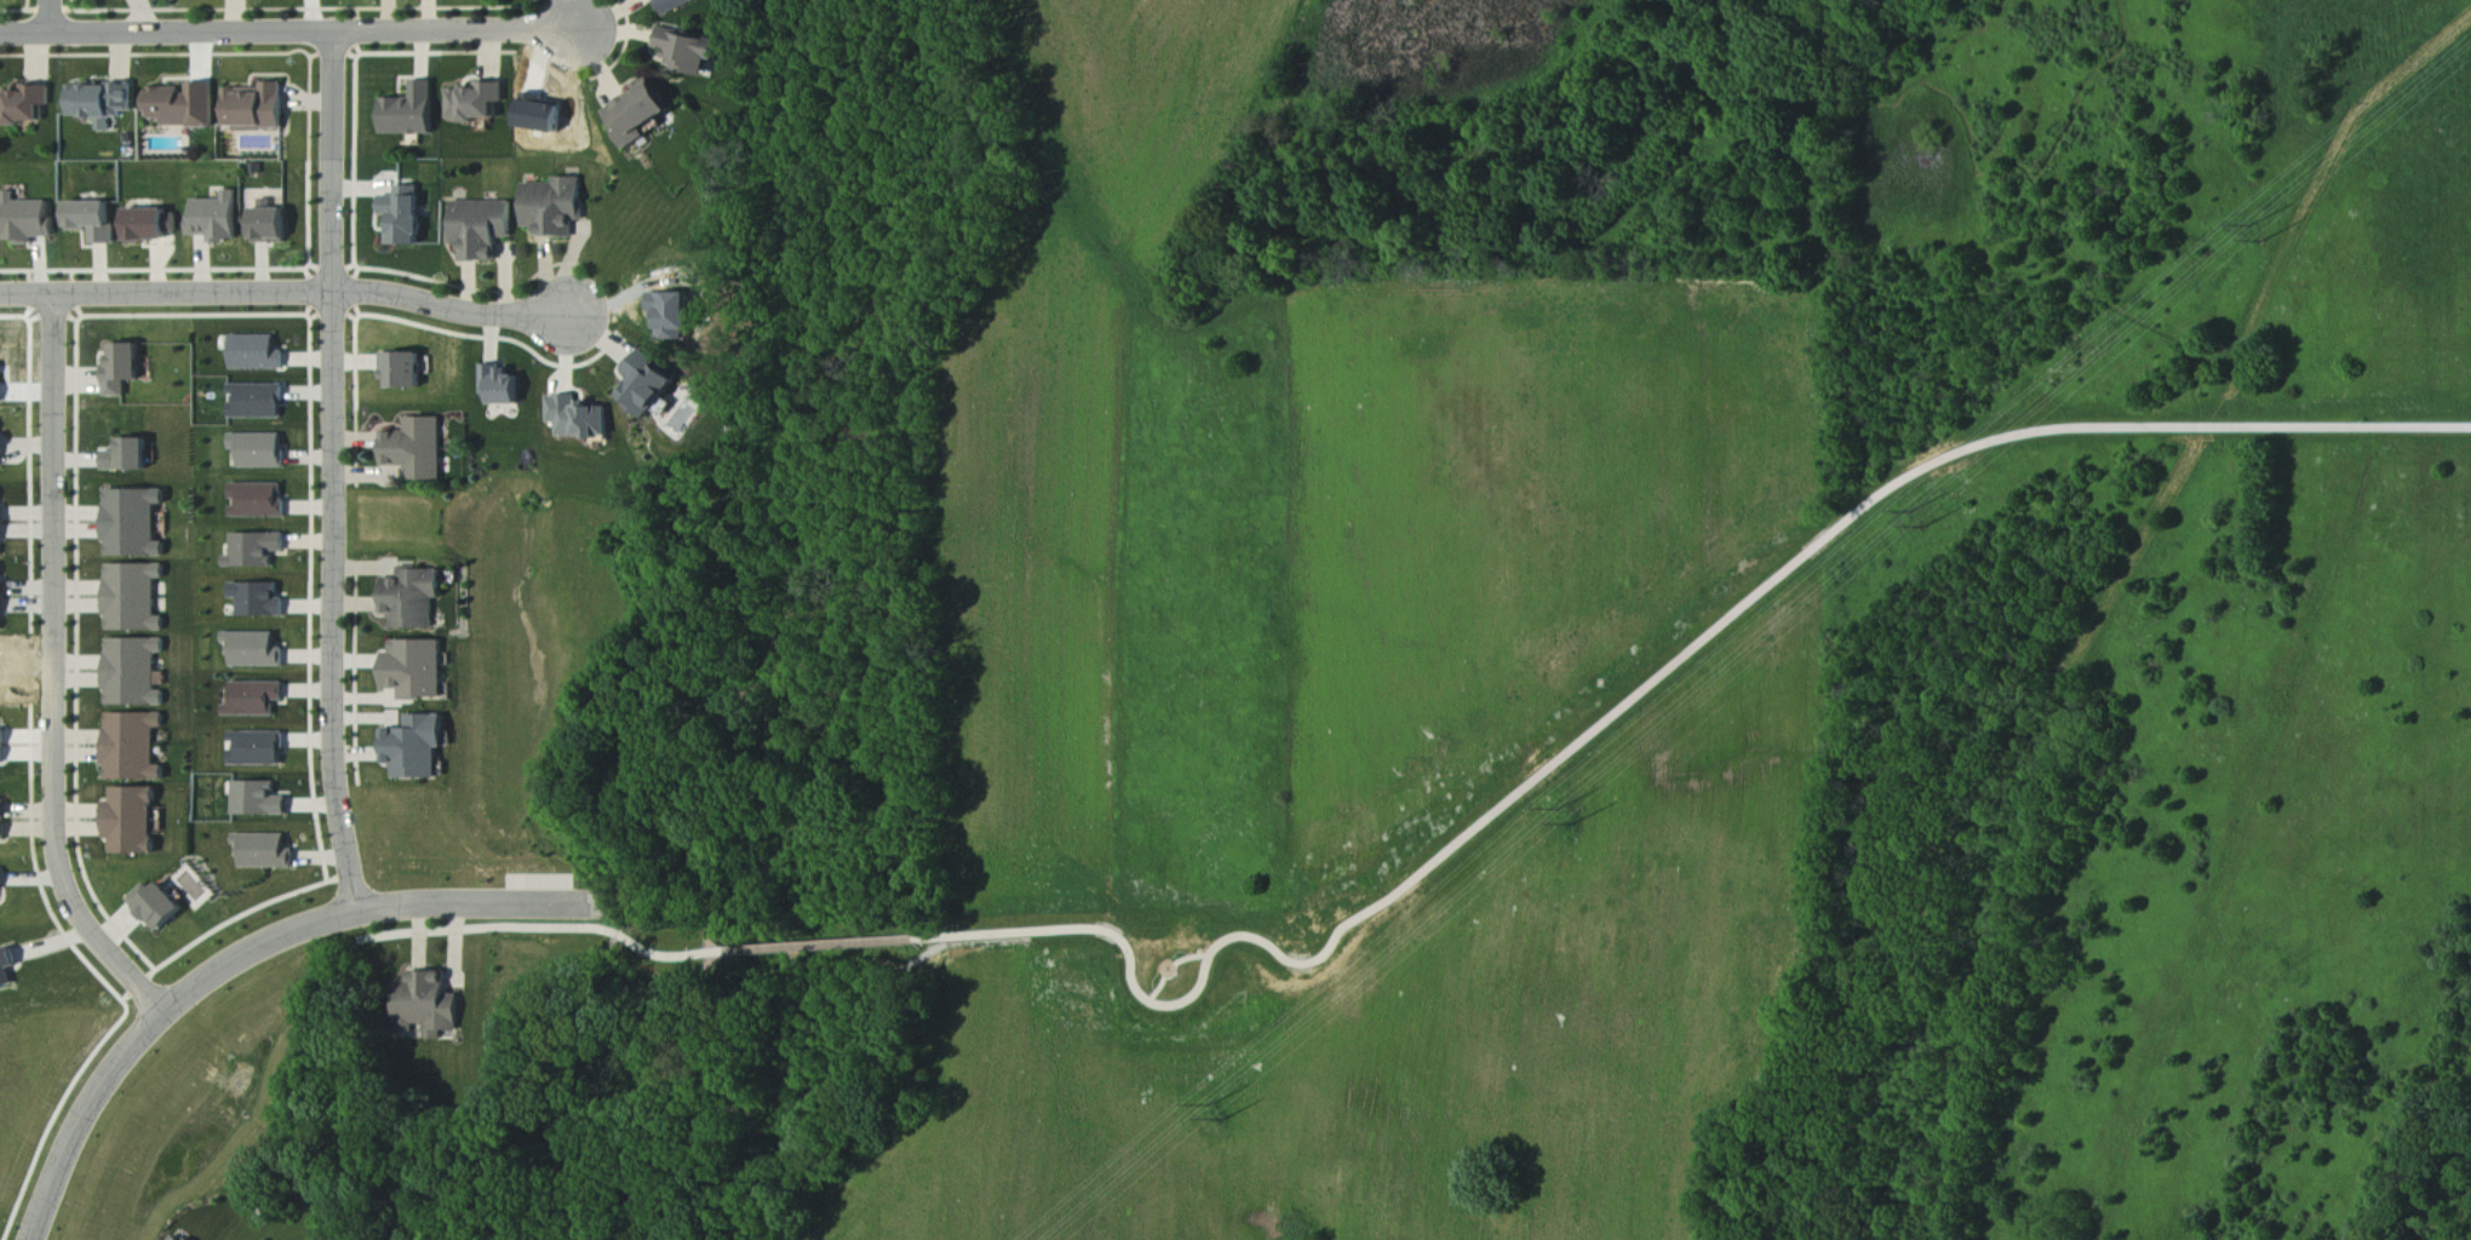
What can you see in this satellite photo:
road: (52, 17)
road: (289, 33)
building: (692, 52)
building: (108, 103)
building: (480, 103)
building: (28, 105)
building: (187, 107)
building: (259, 108)
building: (413, 113)
building: (642, 114)
building: (556, 207)
building: (408, 217)
building: (219, 218)
building: (33, 219)
building: (97, 220)
building: (153, 225)
building: (271, 226)
power tower: (2254, 226)
building: (483, 229)
power tower: (2269, 241)
road: (287, 293)
building: (258, 354)
building: (125, 369)
building: (406, 372)
building: (4, 383)
building: (504, 386)
building: (652, 386)
building: (258, 402)
building: (581, 419)
building: (2, 449)
building: (259, 450)
building: (419, 450)
building: (131, 457)
road: (334, 473)
building: (257, 501)
power tower: (1916, 512)
building: (2, 523)
building: (137, 524)
power tower: (1927, 528)
building: (254, 551)
building: (2, 599)
building: (136, 599)
building: (415, 599)
building: (259, 601)
building: (256, 650)
building: (418, 670)
road: (57, 673)
building: (137, 673)
road: (1641, 694)
building: (256, 699)
building: (4, 745)
building: (136, 748)
building: (417, 748)
building: (258, 750)
building: (259, 800)
power tower: (1563, 810)
building: (2, 822)
building: (134, 822)
power tower: (1576, 825)
building: (268, 852)
building: (1, 880)
building: (160, 907)
road: (539, 929)
road: (822, 947)
road: (247, 954)
building: (7, 969)
power tower: (1212, 1106)
power tower: (1223, 1120)
building: (179, 1236)

